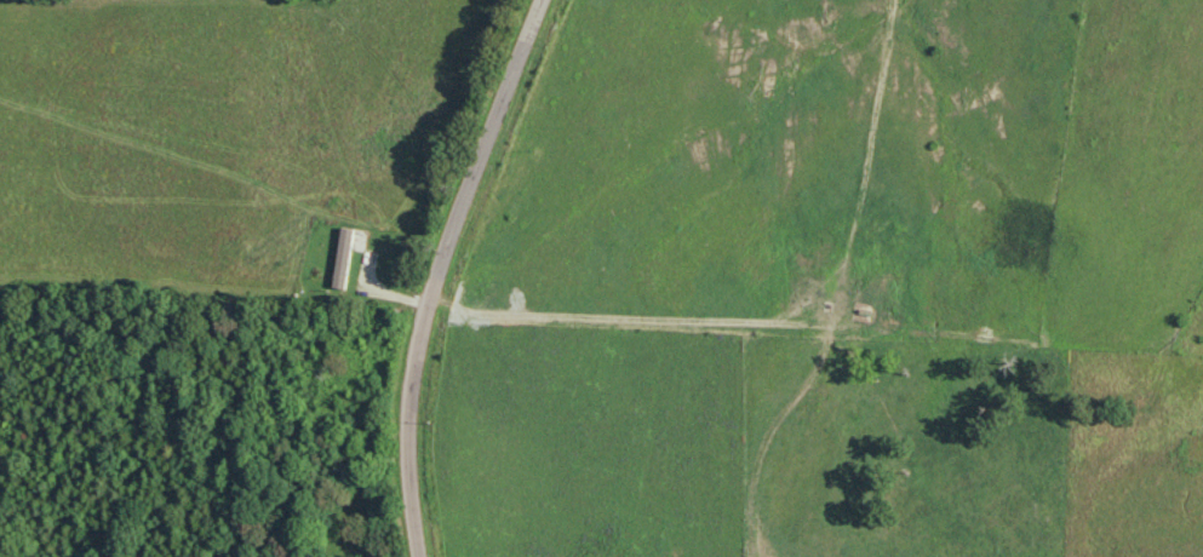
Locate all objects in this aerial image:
building: (340, 270)
road: (437, 271)
building: (678, 555)

